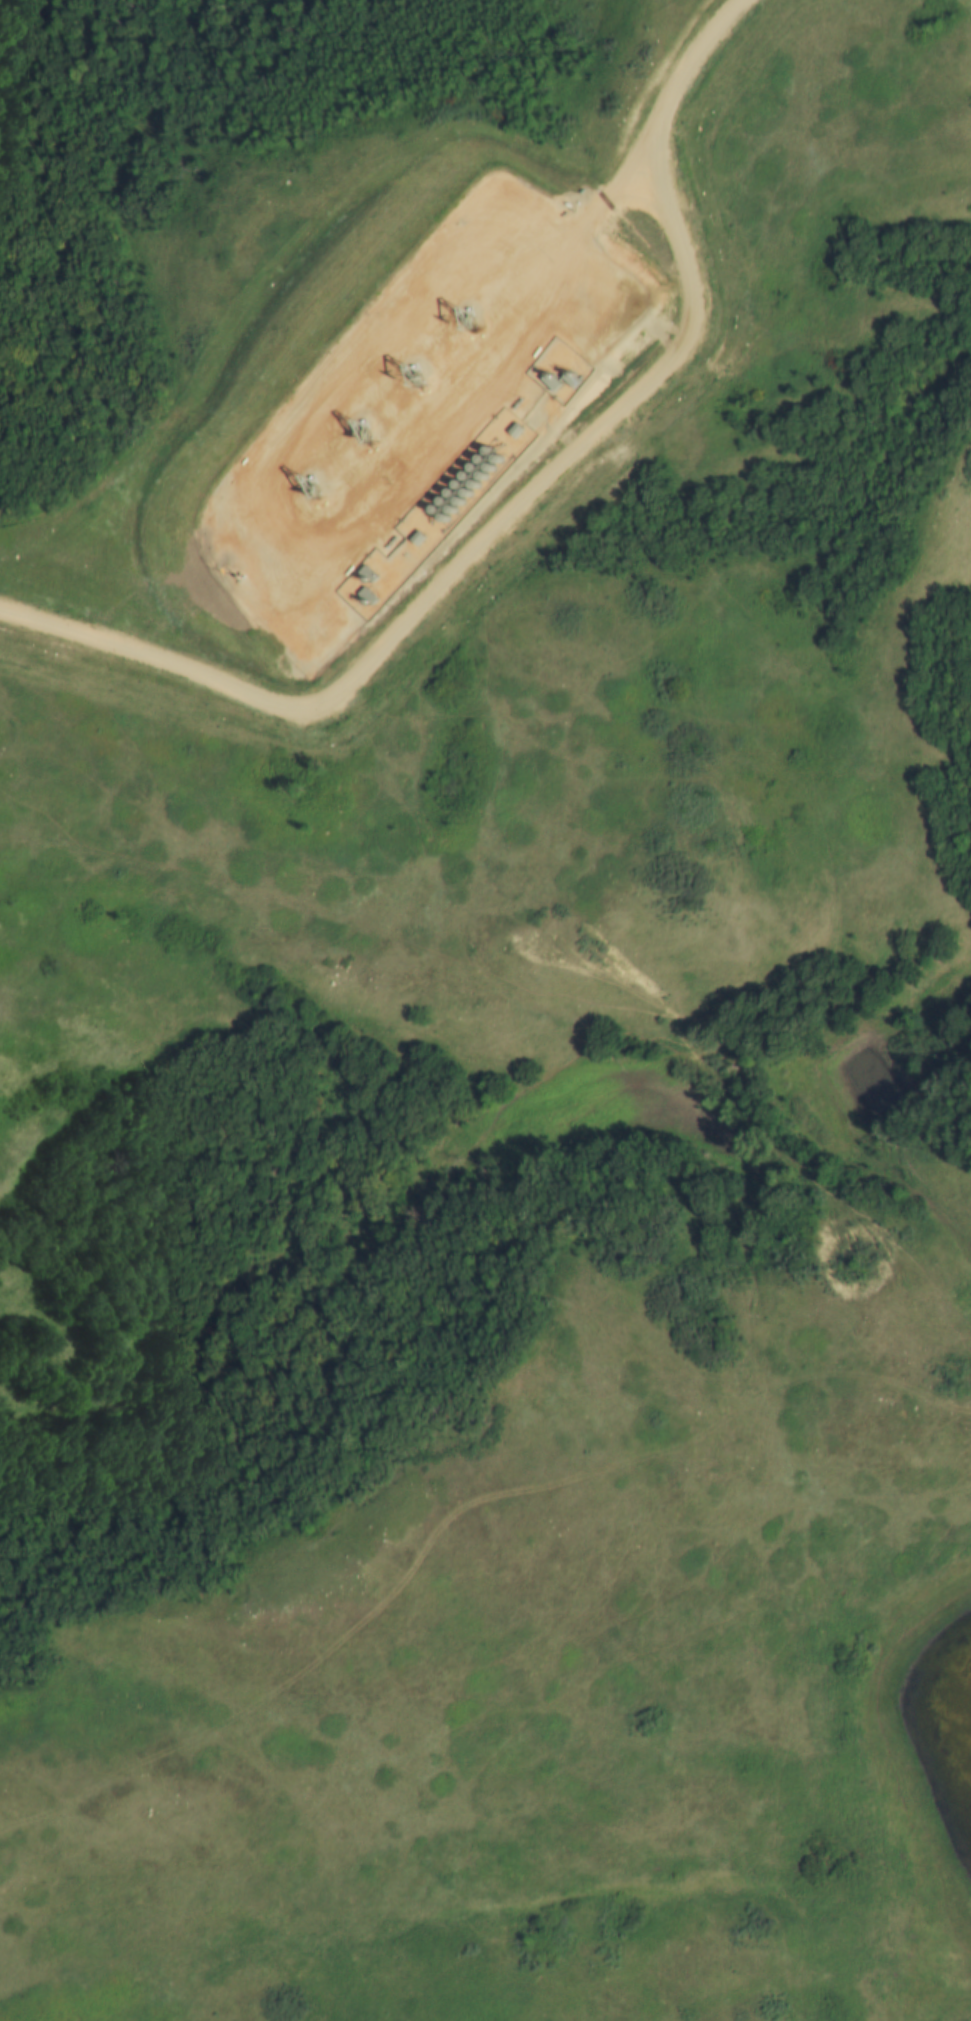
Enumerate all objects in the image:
road: (601, 180)
petroleum well: (460, 326)
petroleum well: (411, 378)
petroleum well: (359, 435)
building: (484, 458)
storage tank: (484, 458)
building: (476, 466)
storage tank: (476, 466)
building: (493, 466)
storage tank: (493, 466)
building: (469, 474)
storage tank: (469, 474)
building: (485, 475)
storage tank: (485, 475)
building: (461, 483)
storage tank: (461, 483)
building: (479, 484)
storage tank: (479, 484)
petroleum well: (307, 489)
building: (453, 491)
storage tank: (453, 491)
building: (472, 491)
storage tank: (472, 491)
building: (446, 499)
storage tank: (446, 499)
building: (463, 500)
storage tank: (463, 500)
building: (439, 508)
storage tank: (439, 508)
building: (455, 508)
storage tank: (455, 508)
road: (514, 511)
building: (430, 515)
storage tank: (430, 515)
building: (448, 517)
storage tank: (448, 517)
building: (440, 524)
storage tank: (440, 524)

